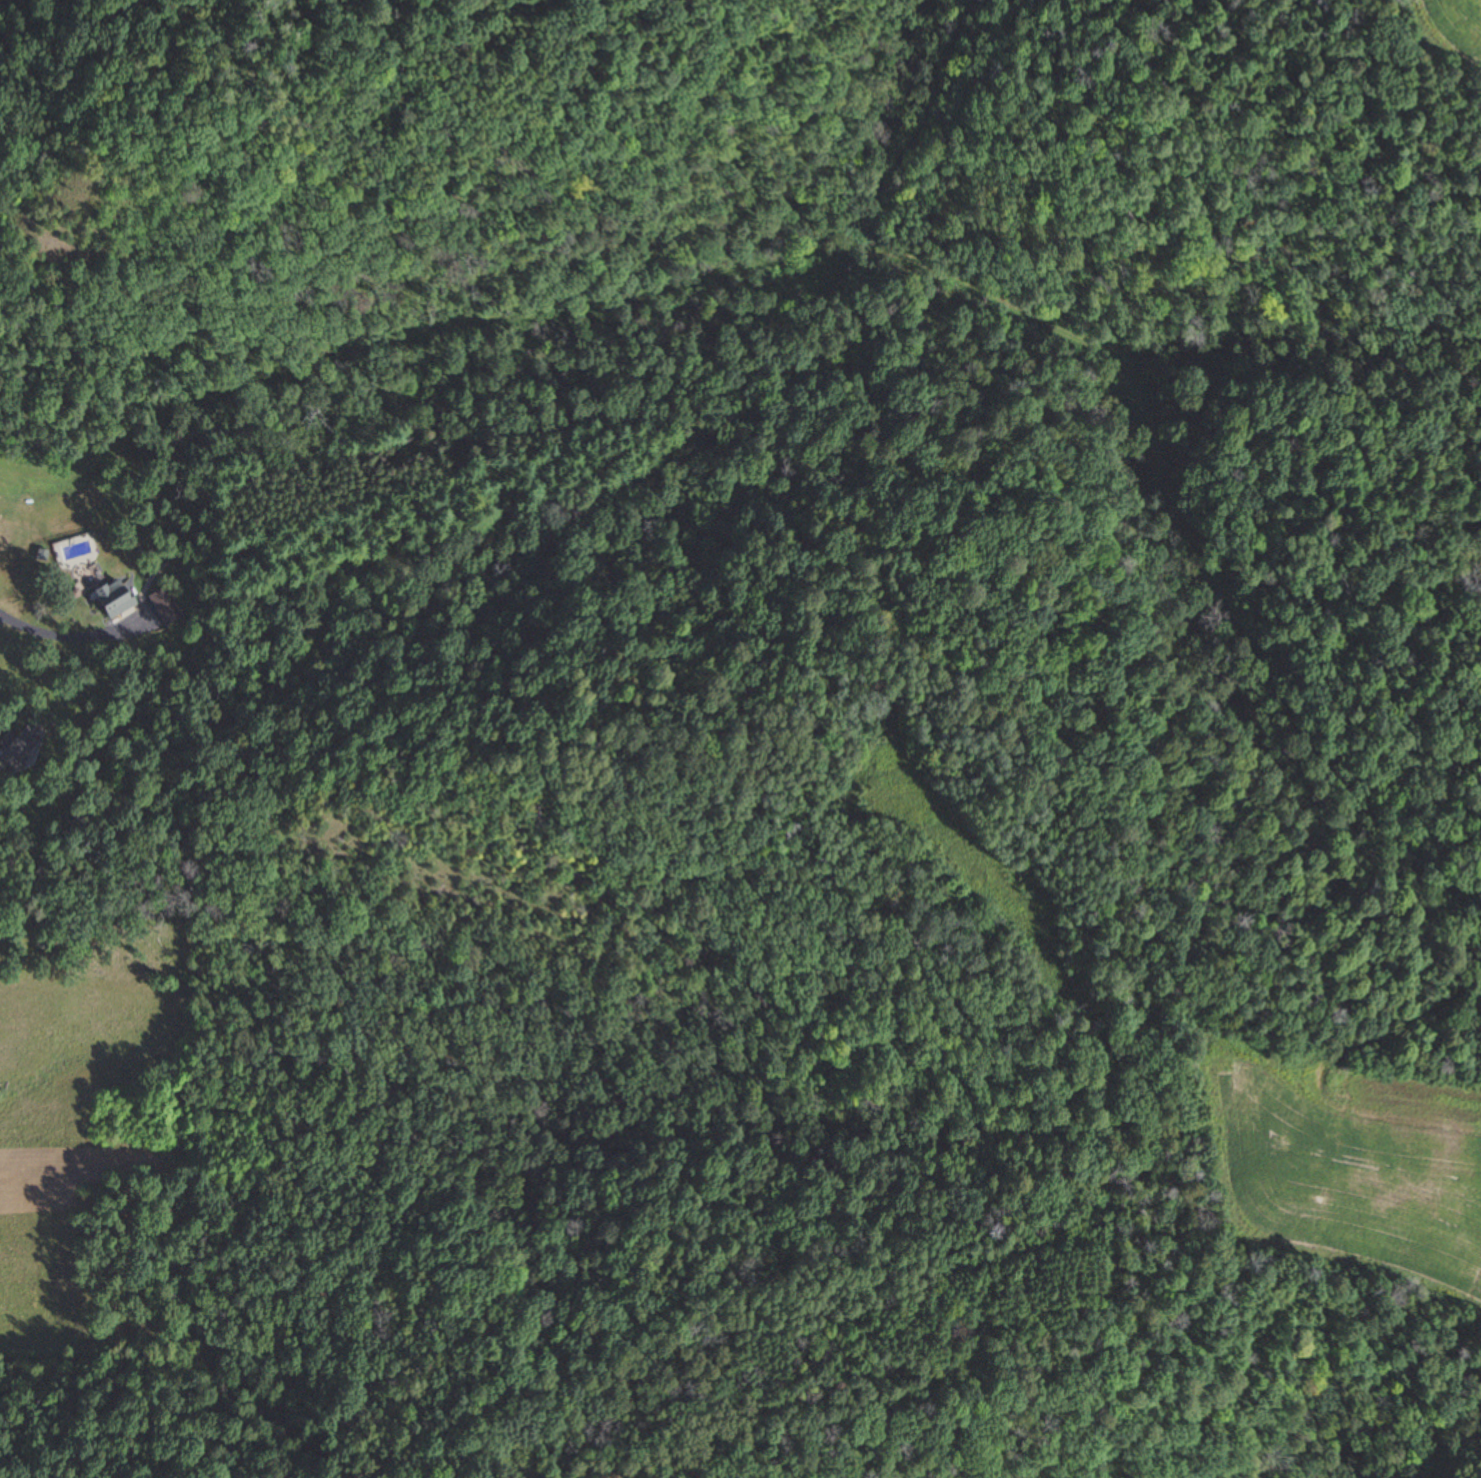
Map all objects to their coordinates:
building: (110, 599)
building: (8, 754)

